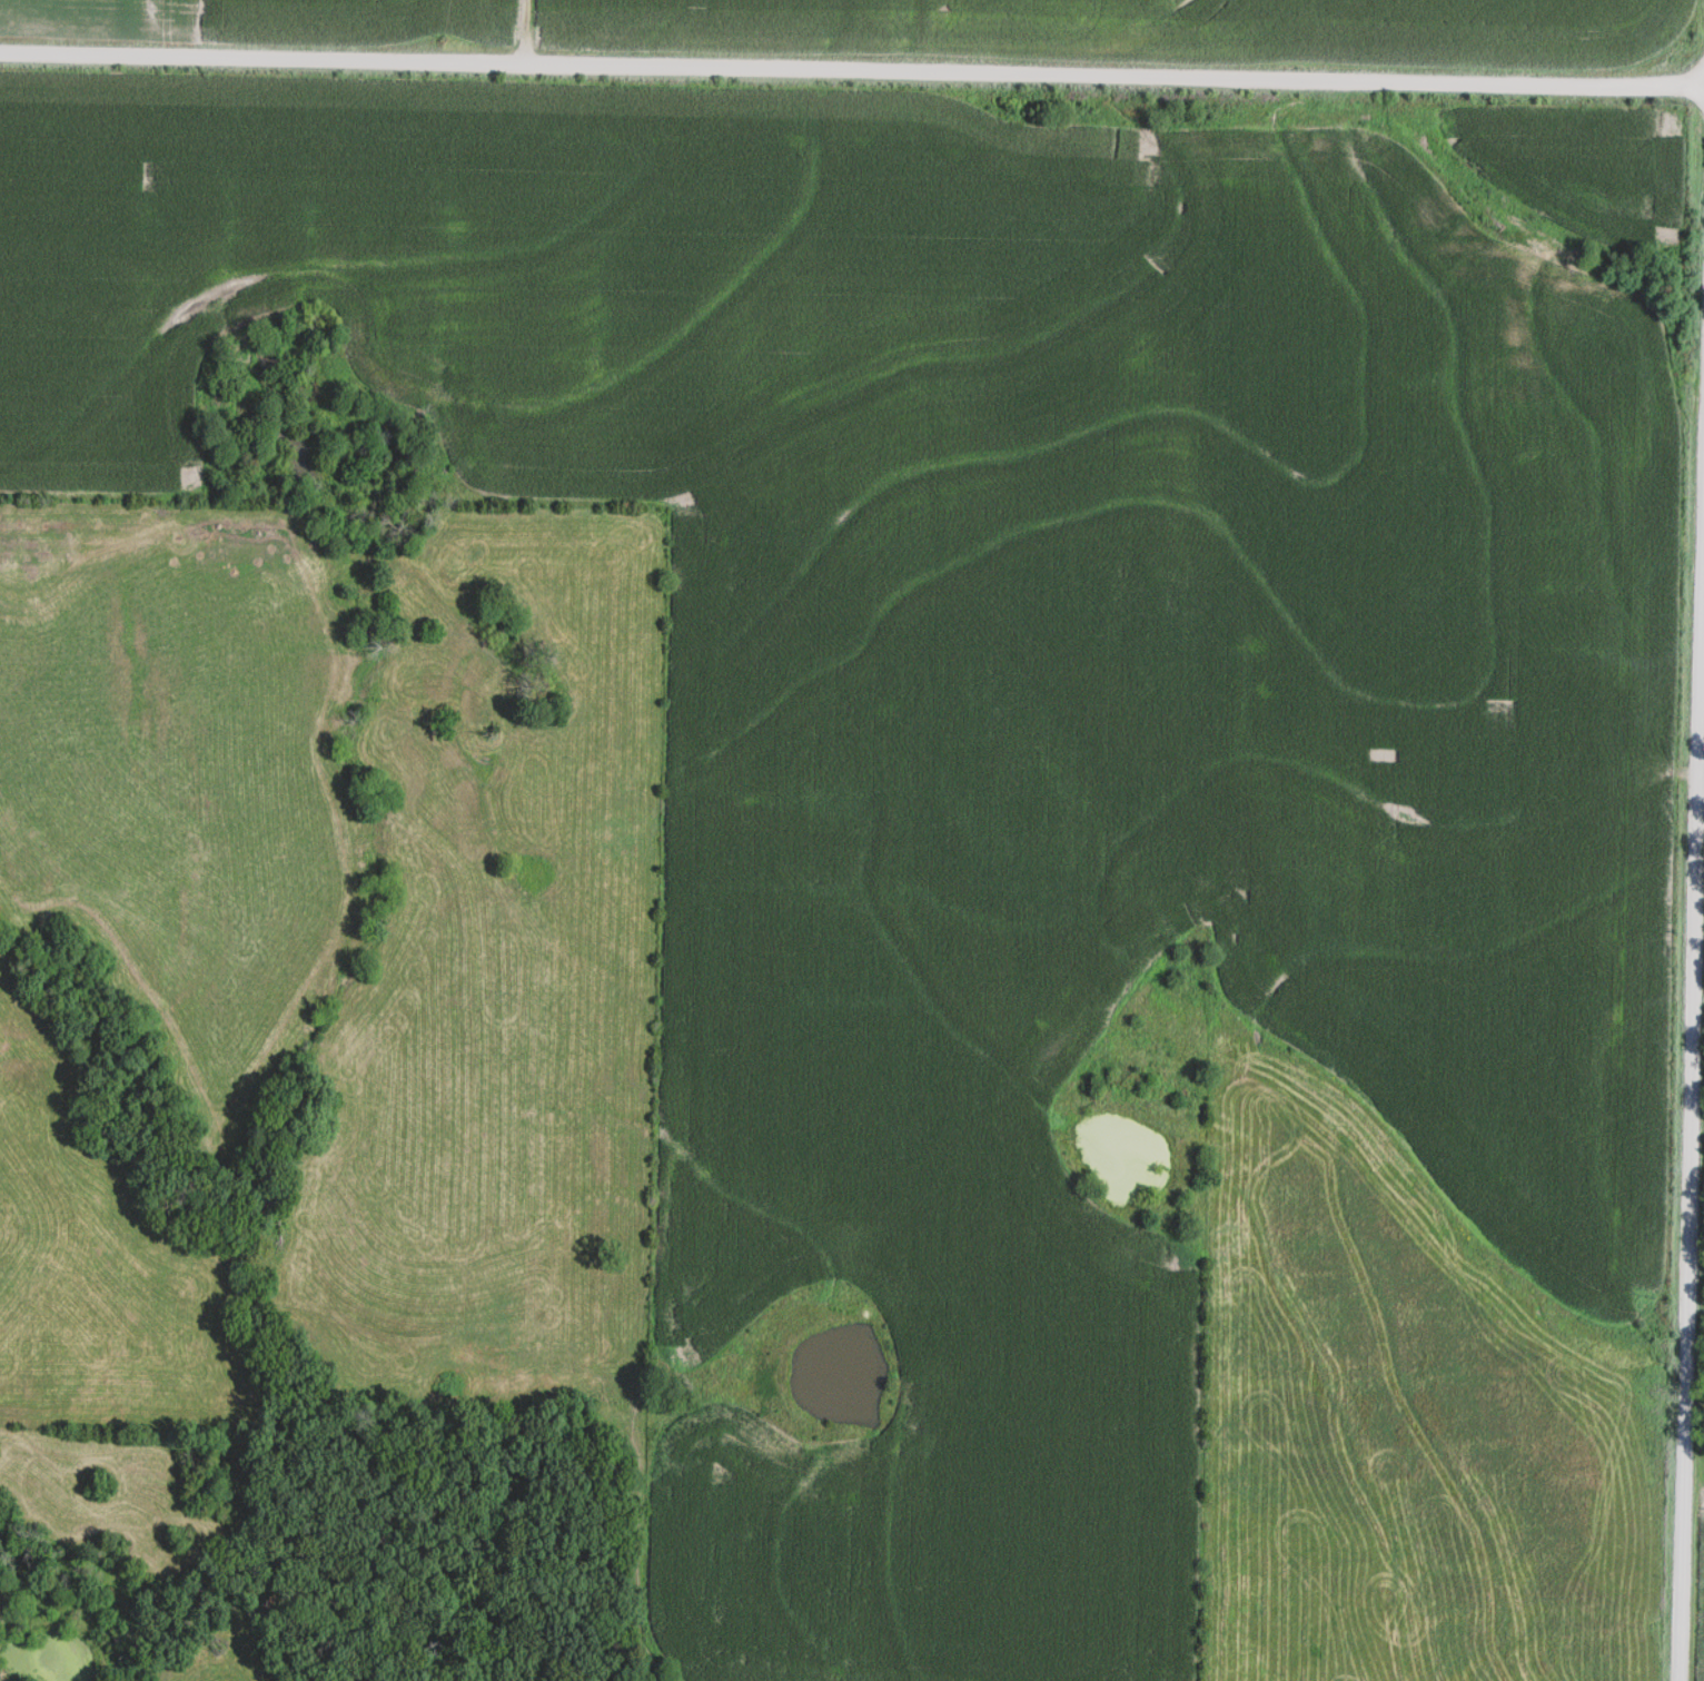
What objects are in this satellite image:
road: (852, 67)
road: (1688, 1124)

